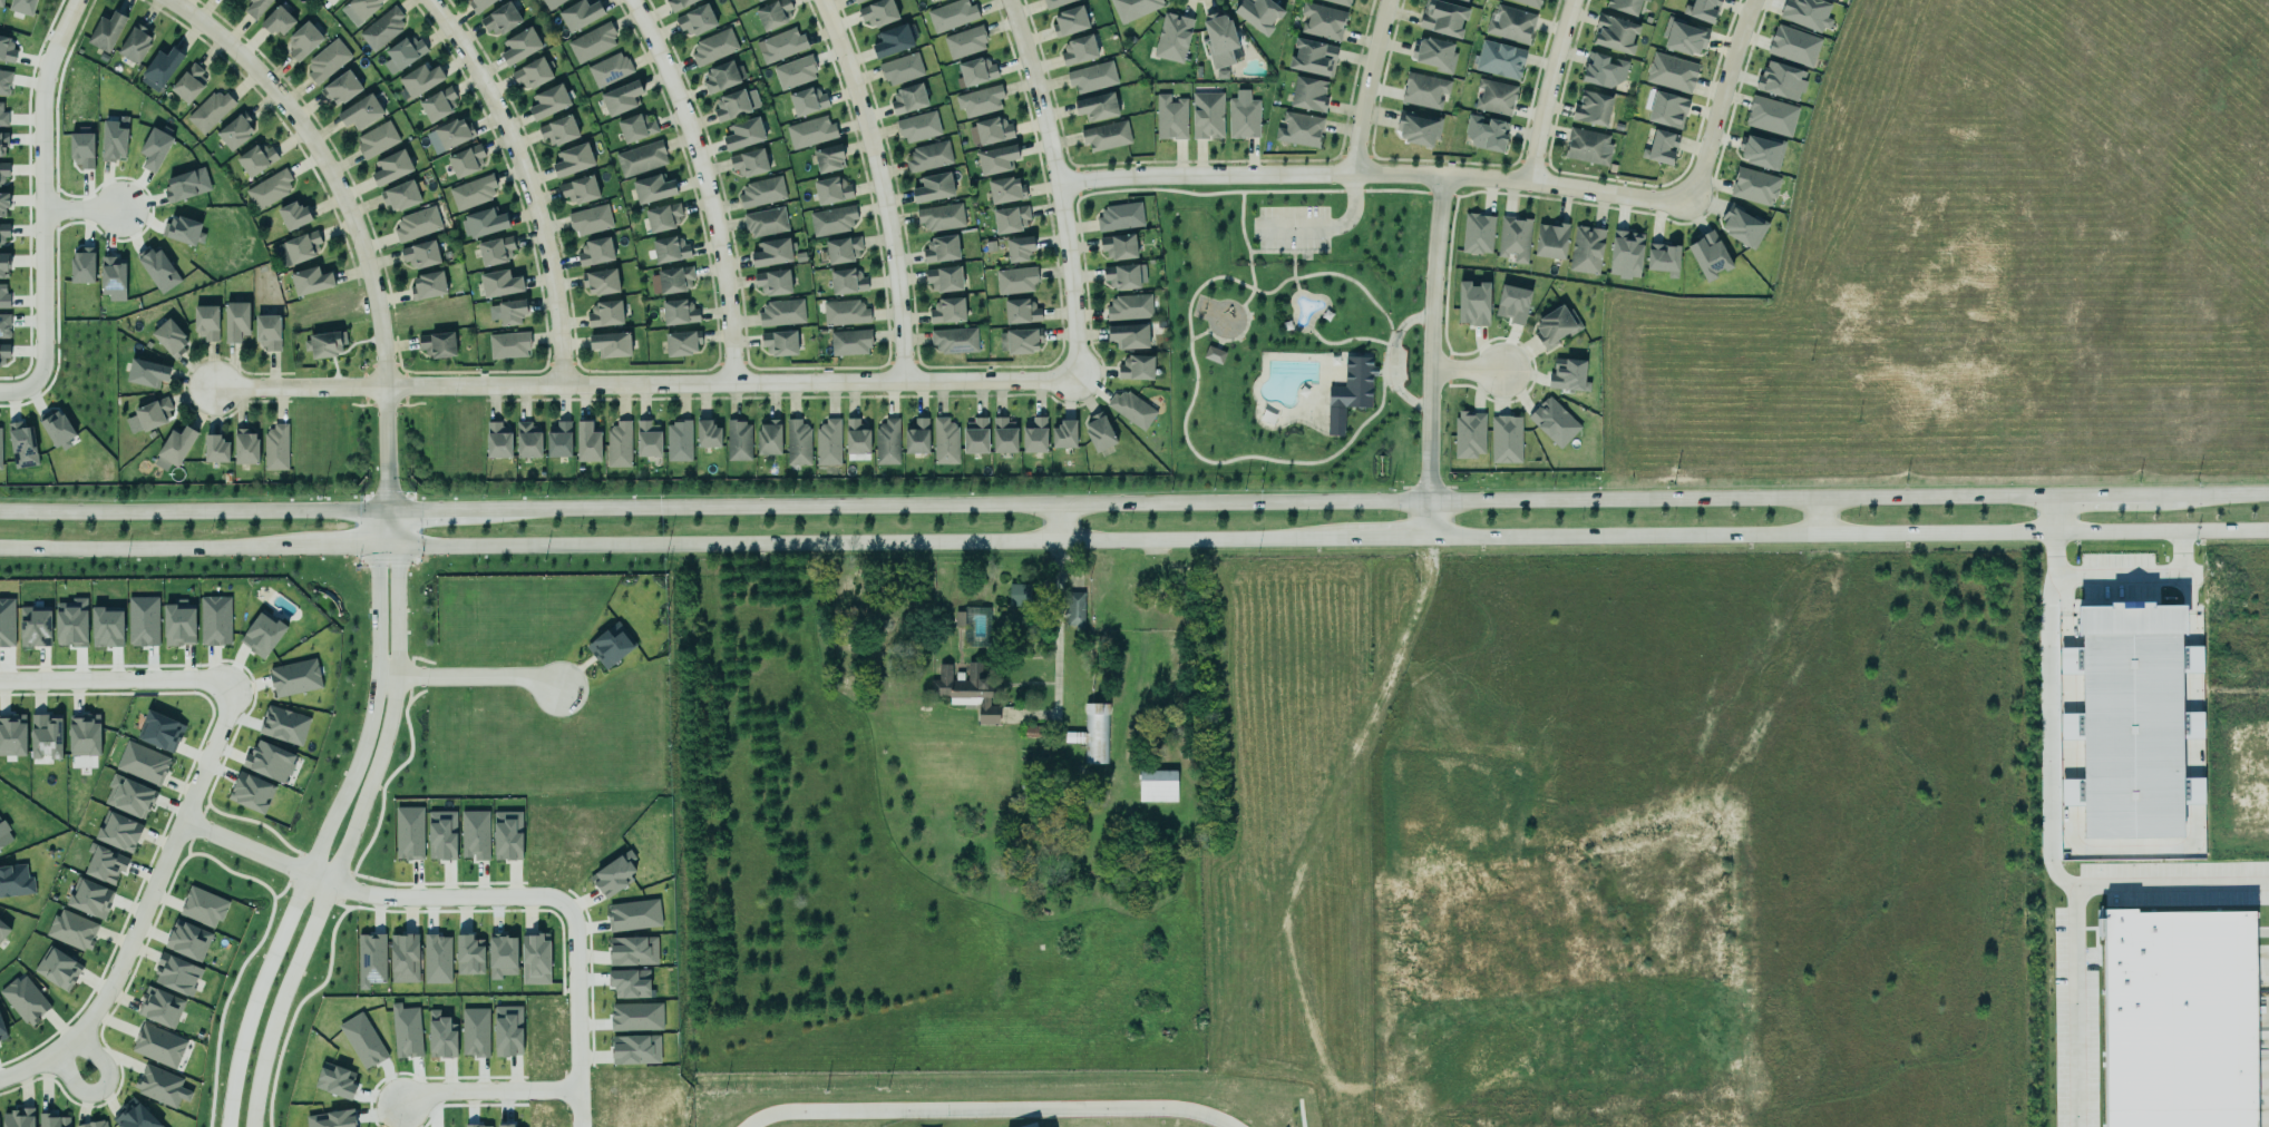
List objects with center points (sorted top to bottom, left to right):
building: (757, 0)
building: (936, 0)
building: (1463, 0)
building: (1646, 0)
building: (1, 1)
building: (856, 1)
building: (1052, 2)
building: (1338, 2)
building: (1528, 2)
building: (549, 3)
building: (675, 3)
building: (478, 4)
building: (1624, 6)
building: (23, 7)
building: (254, 7)
building: (1131, 8)
building: (357, 9)
building: (581, 11)
building: (1700, 11)
building: (878, 12)
building: (1803, 12)
building: (773, 13)
building: (1258, 13)
building: (951, 14)
building: (1069, 17)
building: (500, 18)
building: (1441, 18)
building: (1321, 19)
building: (697, 20)
building: (275, 21)
building: (1511, 23)
building: (106, 28)
building: (382, 29)
building: (1615, 33)
building: (1168, 36)
building: (1681, 38)
building: (892, 39)
building: (1216, 39)
building: (301, 40)
building: (135, 41)
building: (592, 41)
building: (780, 42)
building: (965, 42)
building: (518, 46)
building: (712, 46)
building: (1789, 46)
building: (7, 49)
building: (1079, 50)
building: (403, 53)
building: (1432, 53)
building: (1311, 57)
building: (1498, 57)
building: (328, 60)
building: (899, 68)
building: (160, 69)
building: (532, 69)
building: (608, 69)
building: (1601, 69)
building: (975, 71)
building: (1668, 71)
building: (795, 72)
building: (420, 76)
building: (723, 76)
building: (1090, 76)
building: (1780, 81)
building: (4, 82)
building: (187, 82)
road: (1365, 87)
building: (341, 88)
road: (1548, 89)
building: (1424, 90)
building: (621, 92)
building: (1306, 94)
building: (1492, 96)
building: (907, 97)
building: (547, 99)
building: (806, 100)
building: (977, 100)
building: (436, 104)
building: (736, 104)
building: (1097, 107)
building: (360, 108)
building: (1590, 108)
building: (211, 110)
building: (1664, 110)
building: (1207, 112)
building: (1768, 115)
building: (3, 116)
building: (1244, 116)
building: (1170, 117)
building: (634, 124)
building: (1415, 125)
building: (916, 126)
building: (1297, 128)
building: (556, 130)
building: (989, 130)
building: (233, 131)
building: (810, 131)
building: (452, 133)
building: (743, 134)
building: (1106, 135)
building: (1484, 135)
building: (114, 139)
building: (377, 139)
building: (3, 144)
building: (1588, 146)
building: (1658, 146)
building: (81, 148)
building: (155, 148)
building: (1759, 151)
building: (928, 156)
building: (639, 157)
building: (828, 158)
building: (254, 159)
building: (573, 159)
building: (995, 159)
building: (466, 160)
building: (748, 164)
building: (390, 167)
building: (3, 174)
road: (1482, 177)
road: (526, 182)
building: (932, 184)
building: (187, 185)
building: (652, 185)
road: (705, 185)
road: (882, 186)
building: (269, 187)
building: (830, 187)
road: (1059, 187)
building: (1751, 188)
building: (580, 189)
building: (1005, 189)
building: (759, 190)
building: (473, 192)
road: (1247, 192)
building: (400, 196)
road: (36, 200)
building: (3, 204)
road: (76, 210)
building: (661, 212)
building: (292, 215)
building: (1120, 216)
building: (941, 217)
building: (588, 218)
building: (1009, 218)
building: (831, 219)
building: (485, 222)
building: (766, 222)
road: (352, 223)
building: (417, 224)
parking lot: (1289, 226)
building: (1741, 228)
building: (184, 229)
road: (1322, 229)
building: (1473, 231)
building: (3, 232)
building: (1512, 237)
building: (1548, 243)
building: (668, 246)
building: (1119, 246)
building: (296, 248)
building: (841, 248)
building: (1017, 248)
building: (941, 249)
building: (1583, 249)
building: (494, 251)
building: (595, 251)
road: (1297, 251)
building: (419, 253)
building: (771, 253)
building: (1623, 254)
building: (1706, 256)
building: (1661, 257)
building: (3, 265)
building: (82, 266)
building: (158, 269)
road: (1291, 271)
building: (674, 276)
building: (1120, 276)
road: (1221, 276)
building: (113, 278)
building: (944, 278)
building: (311, 281)
building: (1015, 281)
building: (600, 282)
building: (773, 282)
building: (847, 282)
building: (498, 283)
building: (428, 285)
road: (1248, 293)
building: (3, 295)
building: (1473, 298)
building: (1512, 304)
building: (512, 307)
building: (1130, 307)
water park: (1304, 308)
building: (676, 310)
building: (844, 311)
building: (946, 311)
building: (1019, 311)
building: (780, 312)
building: (603, 314)
building: (235, 316)
road: (1308, 320)
building: (204, 322)
building: (3, 324)
building: (1555, 326)
building: (267, 329)
park: (1292, 334)
building: (1019, 336)
building: (1129, 336)
building: (171, 337)
building: (611, 340)
building: (849, 340)
building: (953, 340)
road: (1342, 340)
building: (681, 341)
building: (778, 343)
road: (1216, 343)
building: (324, 344)
building: (437, 345)
building: (509, 345)
building: (3, 351)
building: (1213, 354)
road: (1428, 356)
road: (1391, 357)
building: (1133, 366)
building: (146, 367)
road: (1463, 367)
road: (1379, 371)
building: (1568, 374)
road: (1385, 381)
road: (643, 384)
road: (1394, 385)
building: (1348, 391)
building: (1126, 409)
building: (148, 415)
building: (1552, 420)
building: (57, 427)
building: (1098, 432)
building: (1468, 432)
building: (708, 434)
building: (768, 434)
building: (1001, 434)
building: (1064, 434)
building: (646, 435)
building: (975, 435)
building: (1033, 435)
building: (856, 437)
building: (915, 438)
building: (678, 439)
building: (1506, 439)
building: (498, 440)
building: (559, 440)
building: (738, 440)
building: (525, 441)
building: (943, 441)
building: (587, 442)
building: (798, 442)
building: (828, 442)
building: (887, 442)
building: (21, 443)
building: (619, 444)
building: (244, 447)
building: (173, 448)
building: (276, 448)
building: (0, 449)
building: (214, 449)
road: (1333, 451)
road: (2210, 493)
road: (2100, 494)
road: (1263, 501)
road: (432, 510)
road: (193, 511)
road: (1820, 516)
road: (1060, 522)
road: (2048, 526)
road: (390, 529)
road: (1848, 533)
road: (1391, 538)
road: (875, 542)
road: (2177, 542)
road: (150, 547)
road: (348, 547)
road: (2112, 576)
building: (1019, 595)
building: (1074, 609)
building: (958, 618)
building: (215, 620)
building: (143, 621)
building: (179, 624)
building: (35, 627)
building: (107, 627)
road: (1058, 627)
building: (262, 635)
building: (610, 646)
building: (293, 675)
road: (466, 675)
road: (156, 682)
building: (967, 690)
road: (369, 714)
building: (2132, 717)
building: (284, 725)
building: (160, 729)
building: (1034, 731)
building: (1092, 734)
building: (12, 735)
building: (46, 735)
building: (85, 735)
road: (382, 736)
building: (270, 761)
building: (144, 763)
building: (1157, 785)
building: (251, 792)
building: (129, 796)
building: (119, 831)
building: (3, 832)
building: (474, 832)
building: (409, 833)
building: (441, 835)
building: (507, 835)
road: (2044, 856)
road: (270, 857)
building: (105, 864)
building: (613, 875)
building: (13, 879)
road: (2168, 886)
building: (89, 898)
building: (203, 906)
building: (632, 913)
road: (564, 918)
building: (3, 925)
building: (72, 930)
building: (0, 937)
building: (187, 938)
road: (127, 944)
building: (633, 951)
building: (403, 953)
building: (469, 954)
building: (503, 955)
building: (437, 958)
building: (371, 959)
building: (535, 960)
building: (58, 968)
building: (176, 974)
building: (630, 983)
building: (26, 999)
building: (160, 1007)
road: (247, 1012)
building: (636, 1016)
building: (2172, 1016)
road: (272, 1018)
building: (508, 1030)
building: (2, 1031)
building: (440, 1036)
building: (158, 1045)
building: (635, 1049)
building: (159, 1085)
road: (98, 1087)
road: (480, 1092)
road: (987, 1108)
building: (18, 1116)
building: (135, 1116)
building: (332, 1119)
building: (53, 1120)
building: (94, 1124)
building: (505, 1125)
building: (478, 1126)

